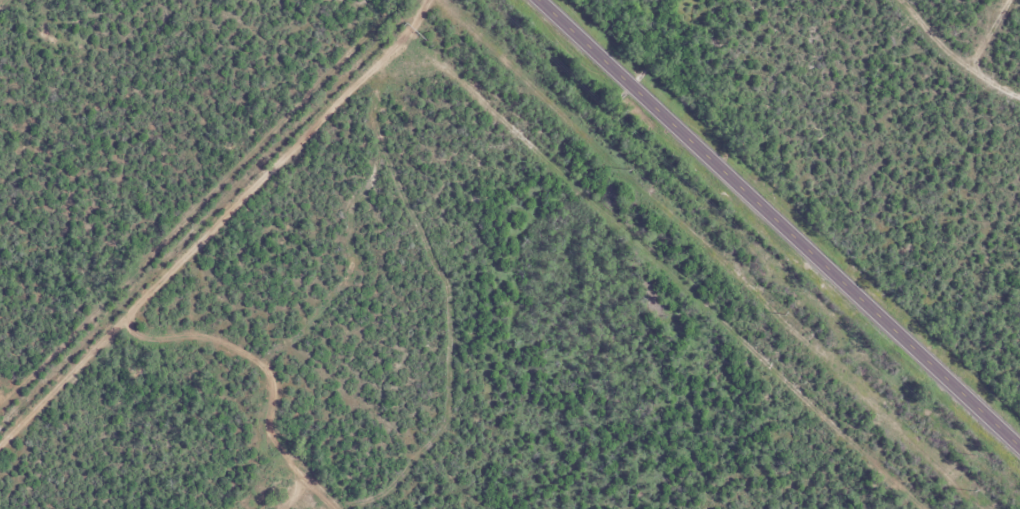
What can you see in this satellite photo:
power tower: (617, 167)
road: (779, 223)
power tower: (774, 311)
power tower: (970, 490)

